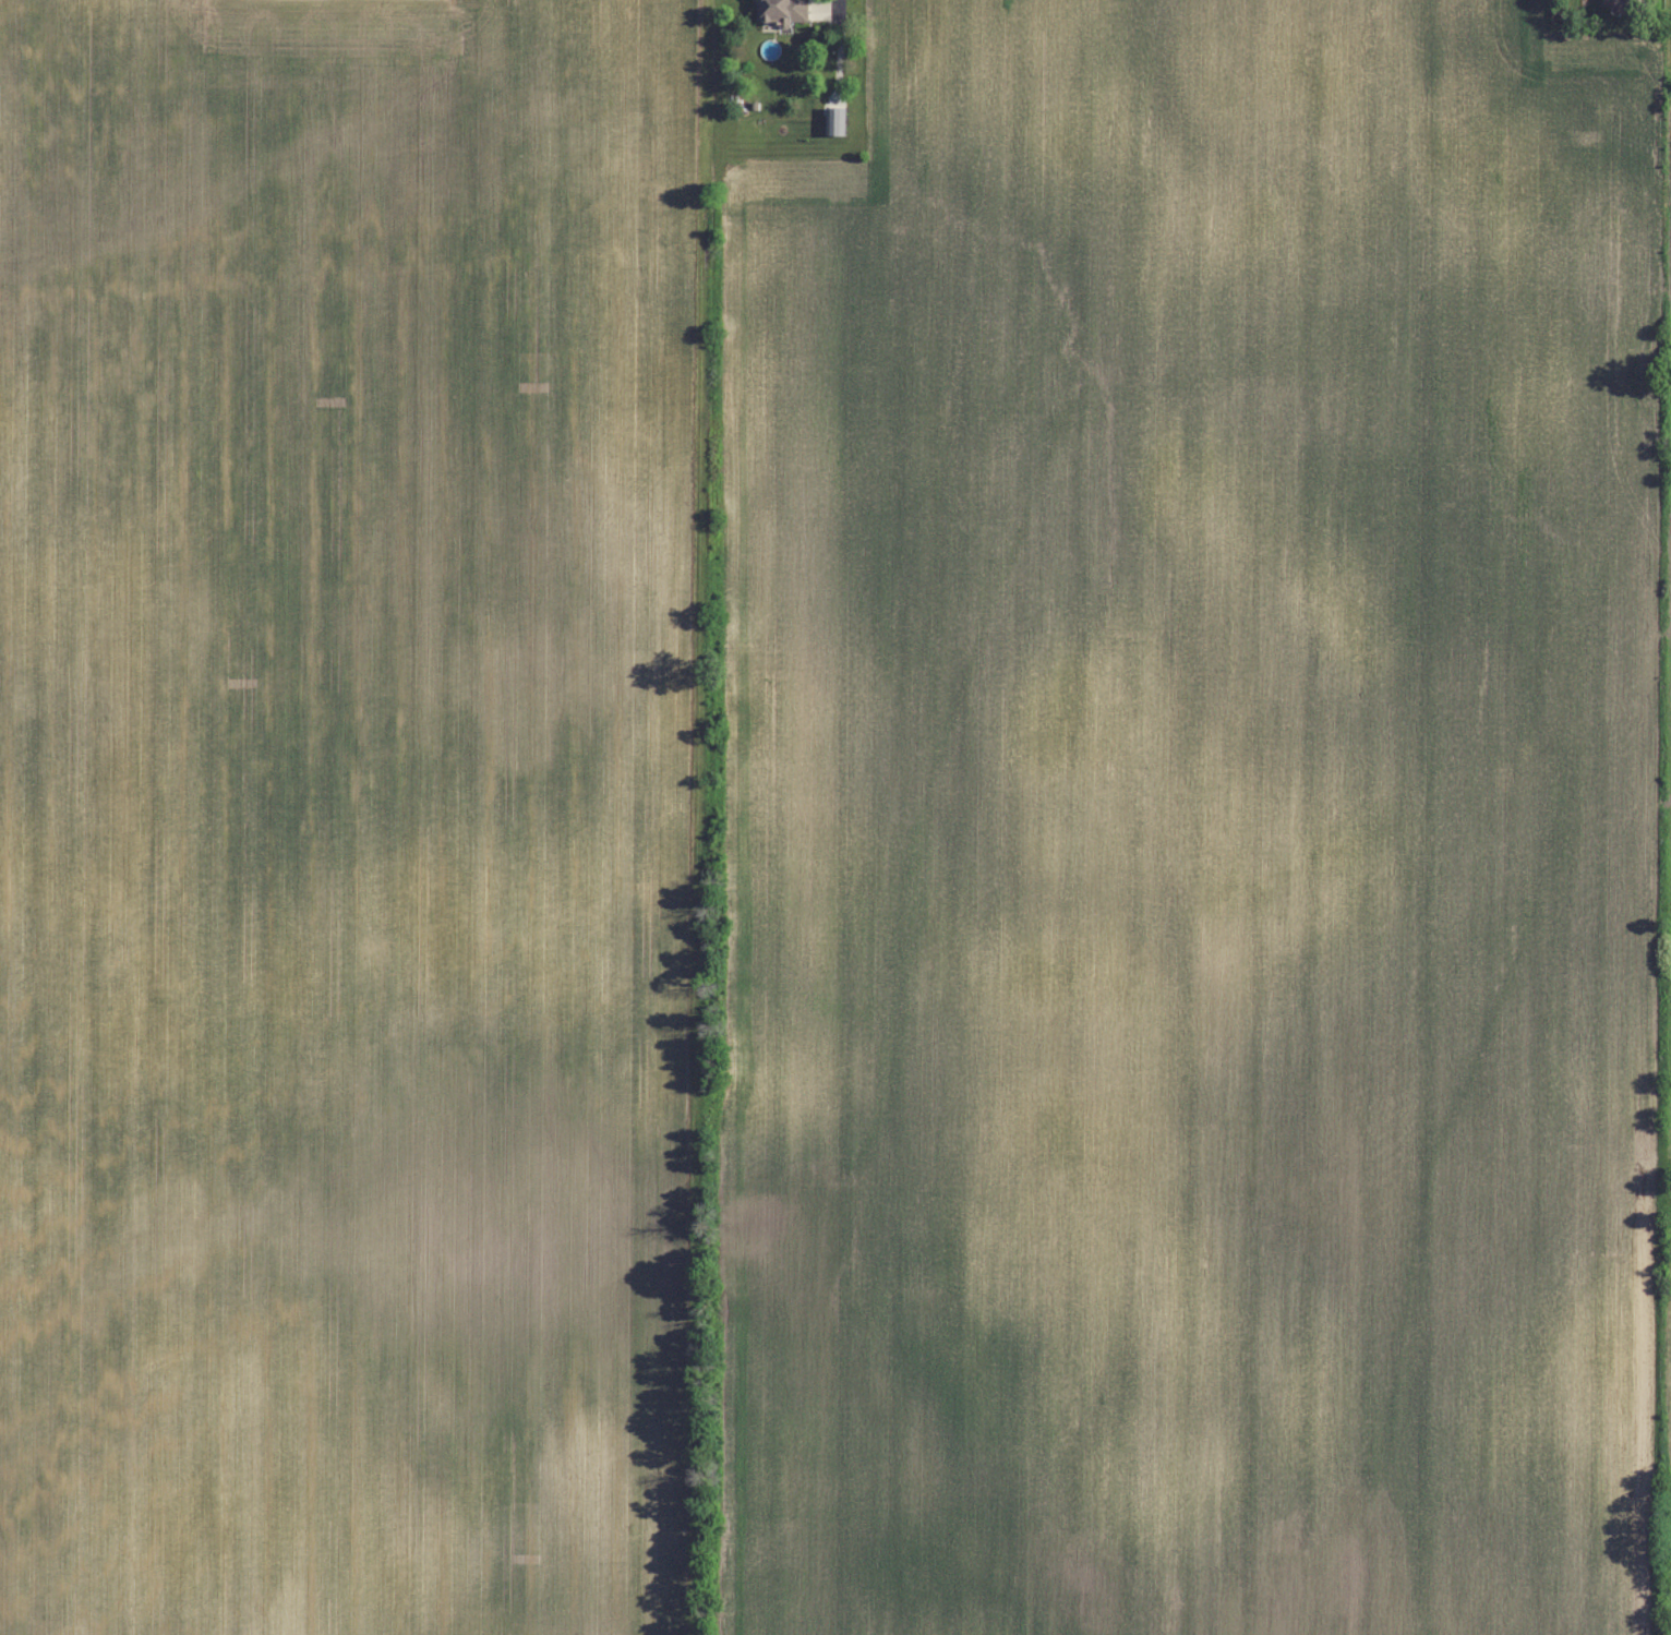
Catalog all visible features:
building: (1621, 5)
building: (780, 10)
building: (833, 119)

